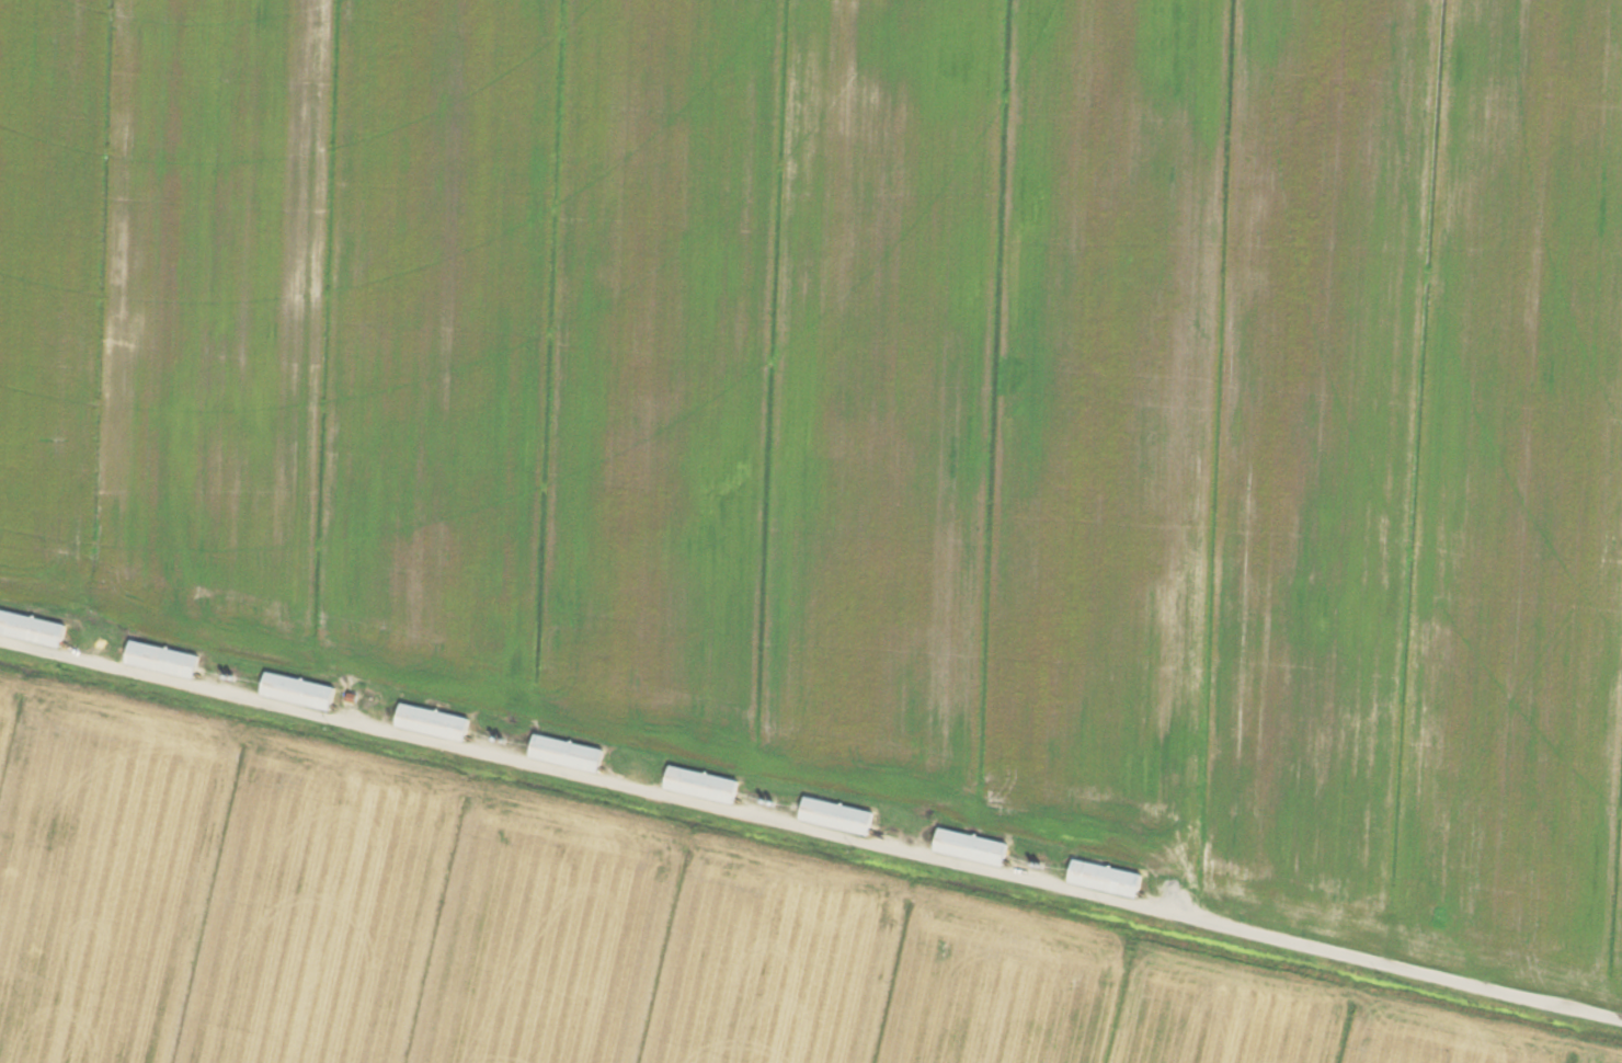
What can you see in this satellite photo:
building: (33, 629)
building: (165, 660)
building: (301, 691)
building: (436, 723)
building: (569, 754)
building: (705, 786)
building: (839, 816)
road: (811, 830)
building: (973, 847)
building: (1108, 879)

